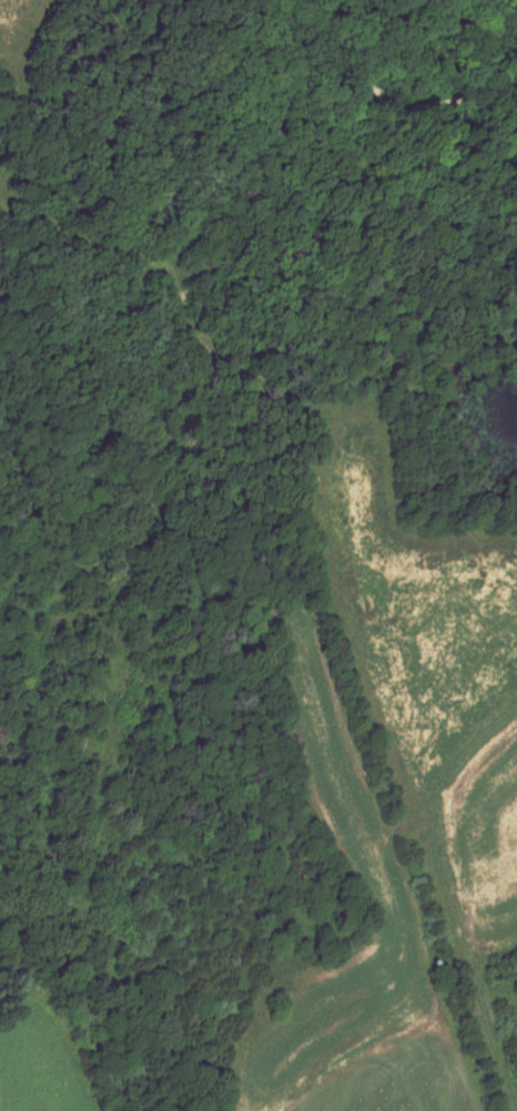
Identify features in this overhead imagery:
park: (257, 444)
road: (330, 567)

